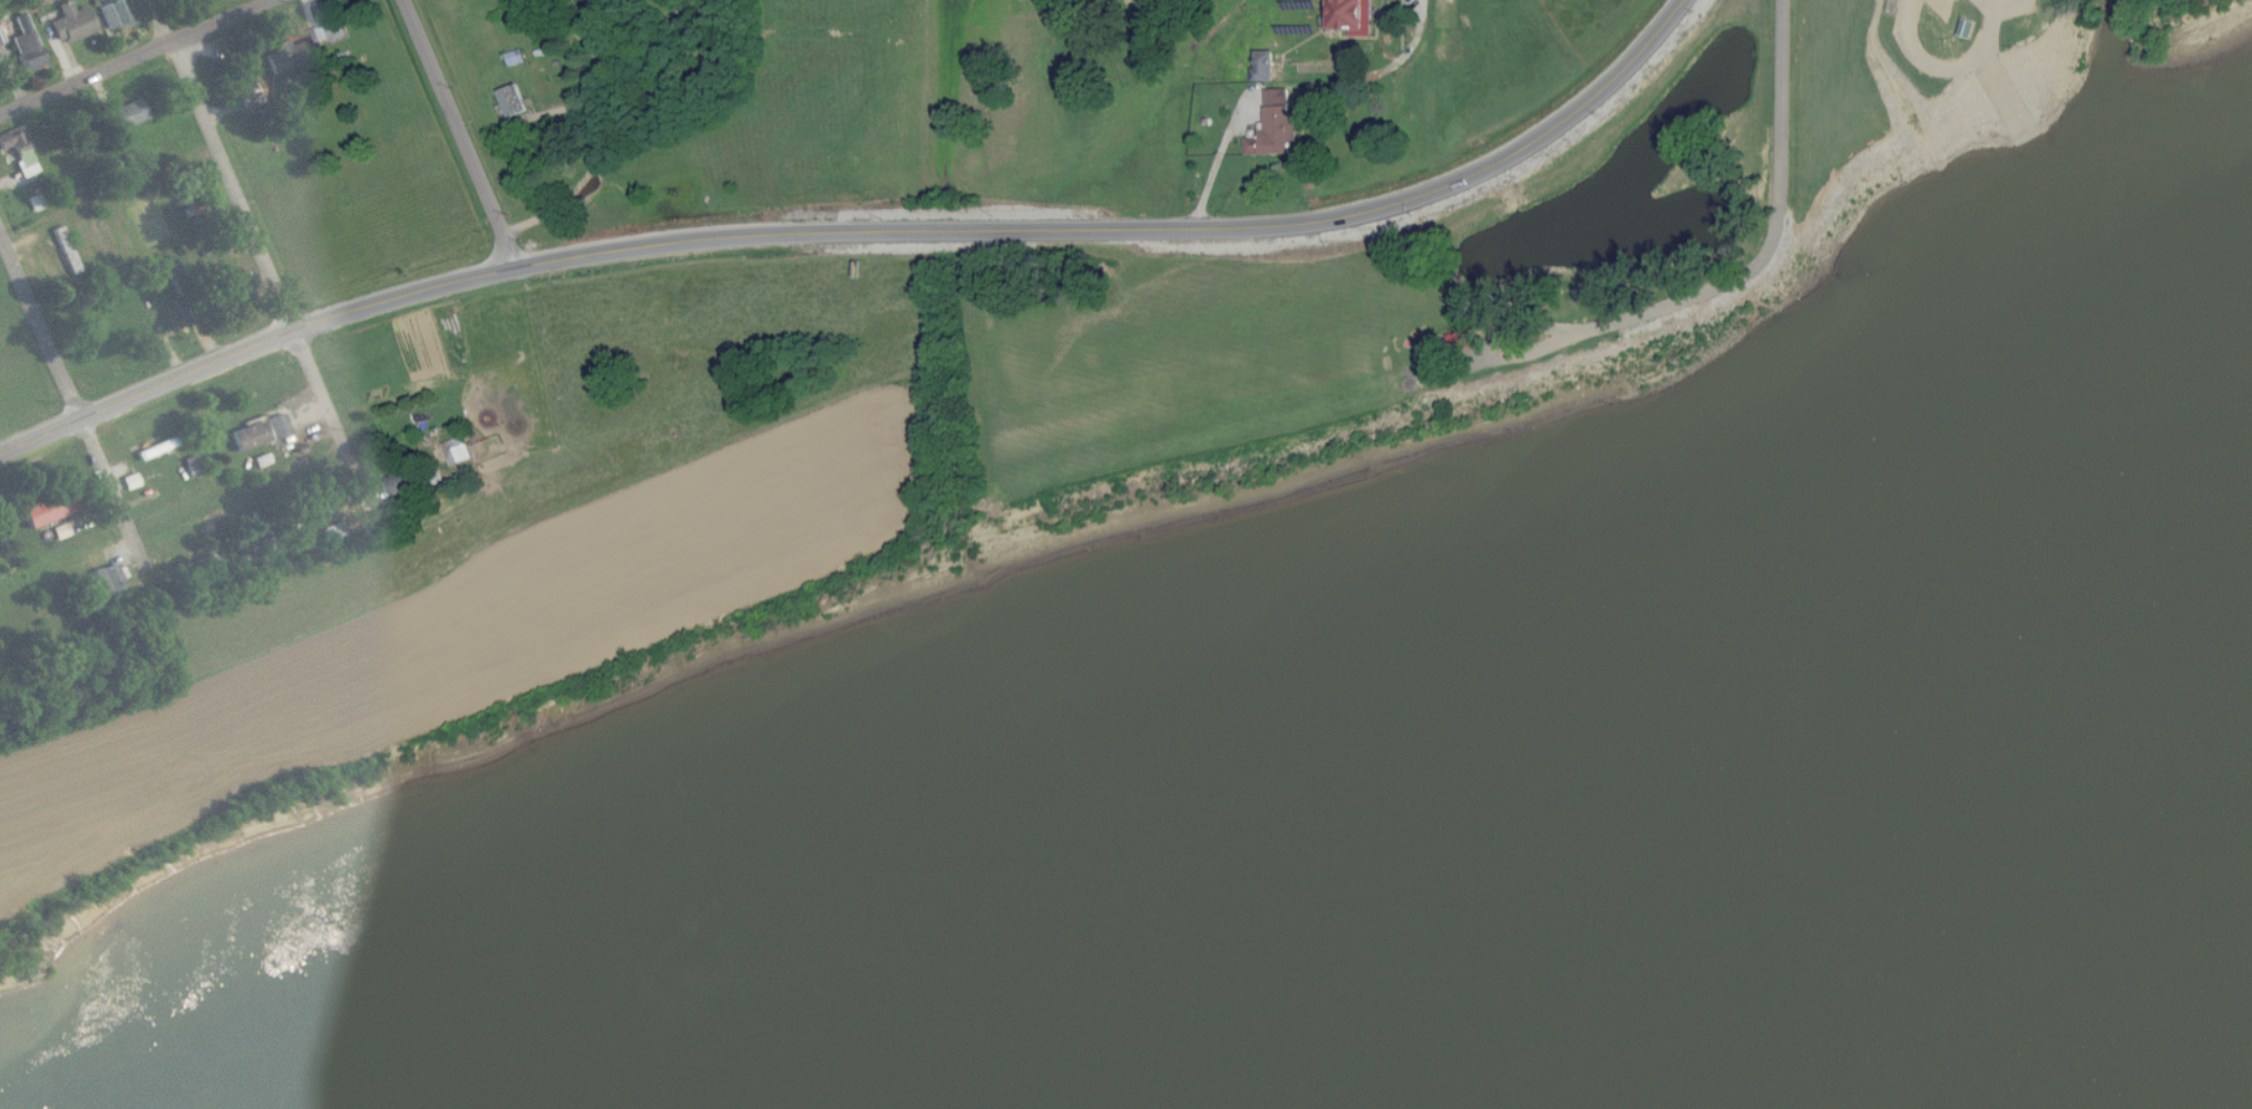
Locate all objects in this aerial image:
building: (43, 1)
building: (116, 14)
building: (1355, 16)
building: (71, 22)
building: (1968, 28)
building: (329, 31)
building: (27, 45)
building: (291, 56)
road: (136, 57)
building: (1265, 67)
road: (1950, 70)
road: (597, 72)
road: (1268, 77)
building: (247, 86)
road: (1783, 96)
building: (514, 100)
building: (130, 112)
building: (1277, 126)
road: (460, 134)
building: (20, 151)
building: (37, 202)
road: (568, 205)
road: (860, 225)
road: (257, 247)
road: (1670, 310)
road: (72, 394)
building: (279, 426)
building: (250, 436)
building: (458, 451)
building: (262, 461)
building: (131, 481)
building: (401, 484)
building: (49, 508)
building: (333, 533)
building: (206, 563)
building: (110, 579)
river: (2161, 1080)

